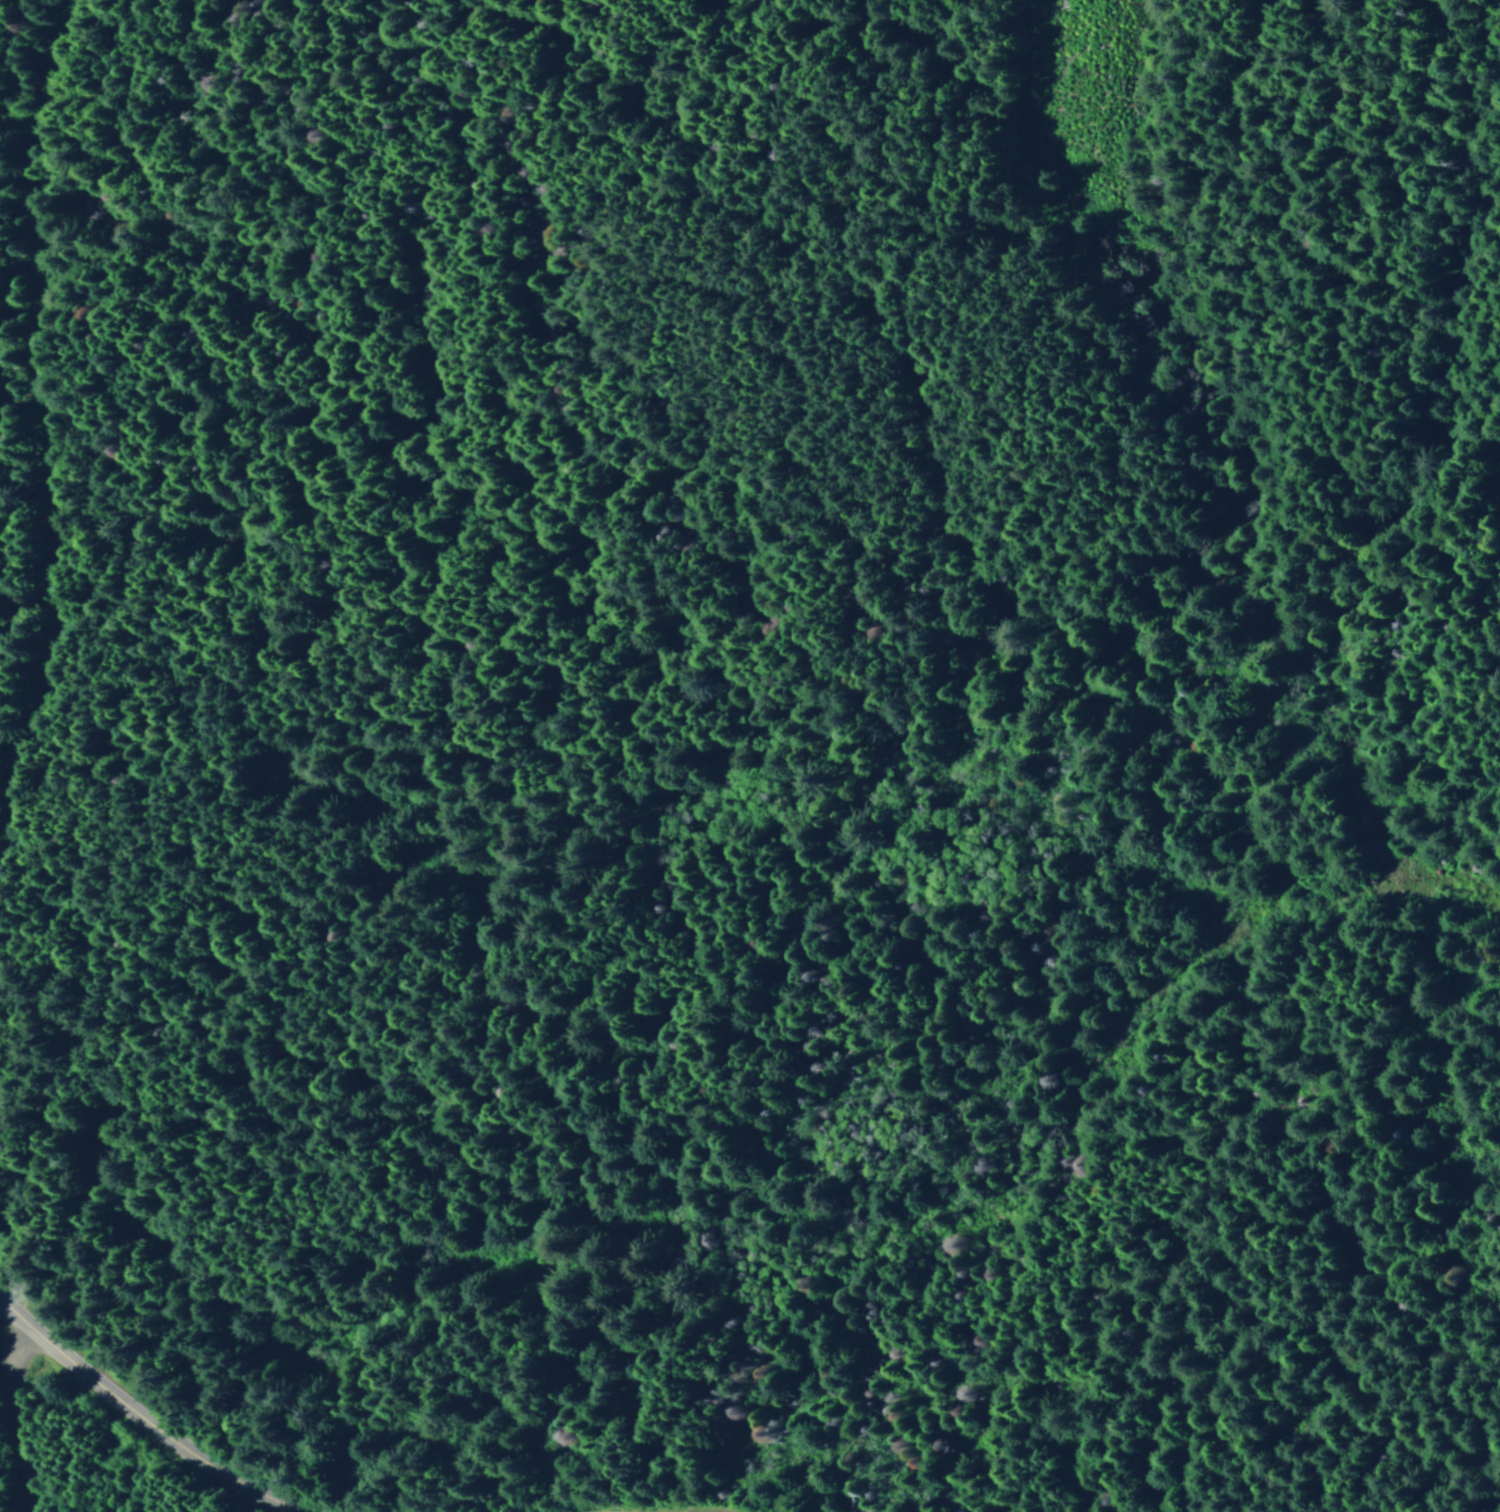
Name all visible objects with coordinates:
road: (5, 465)
road: (133, 1426)

